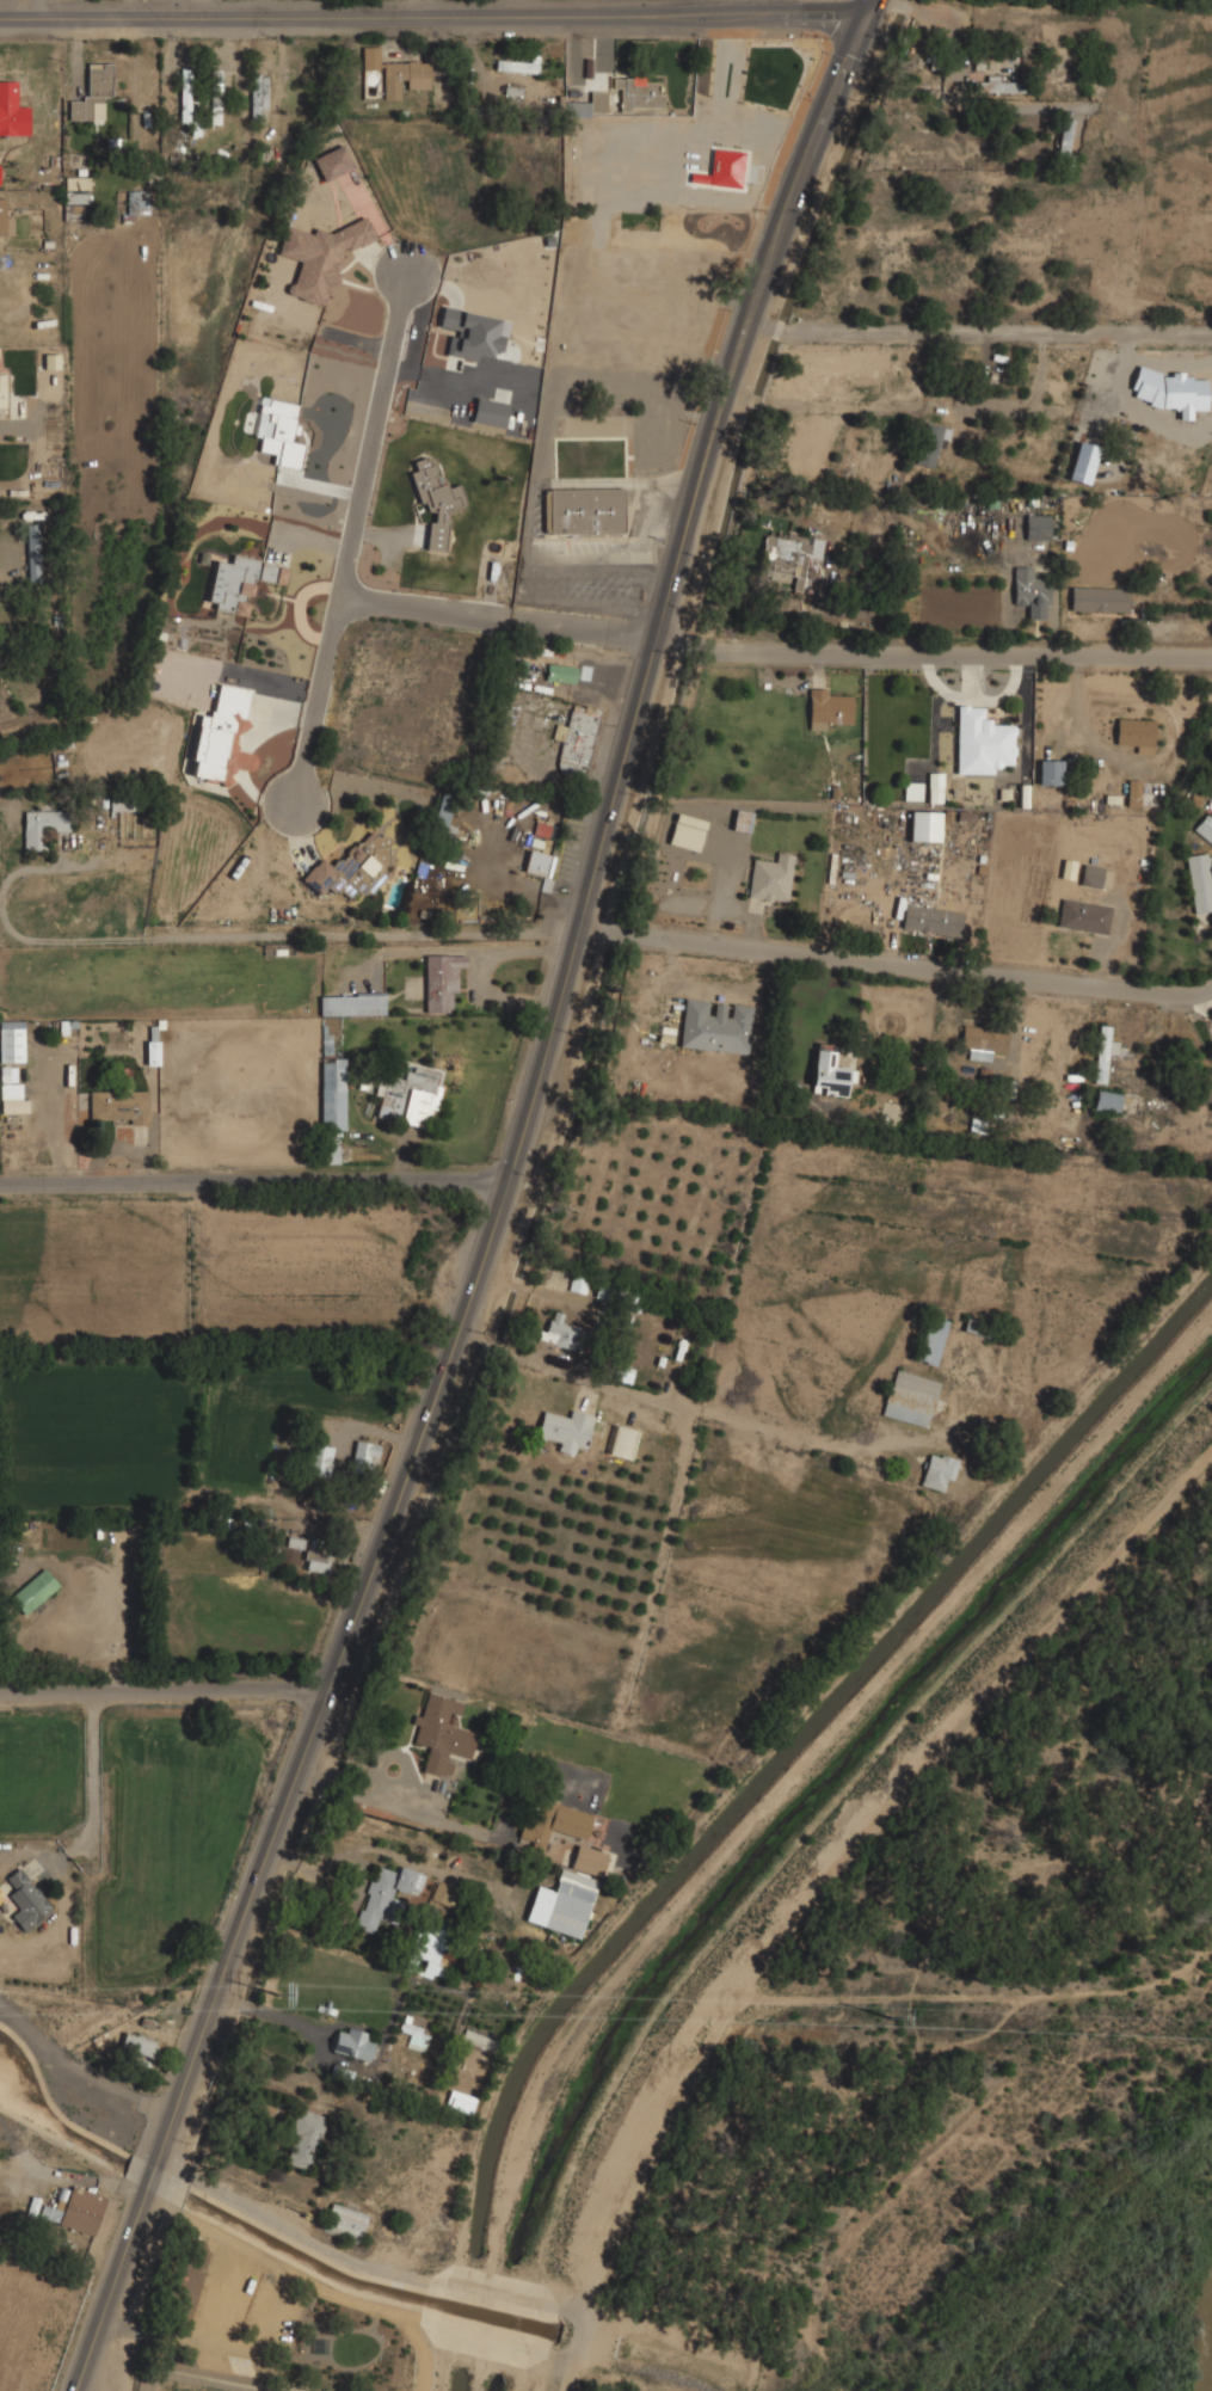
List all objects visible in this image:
road: (431, 7)
road: (37, 8)
road: (912, 8)
road: (433, 14)
traffic signals: (839, 14)
building: (516, 66)
building: (395, 72)
building: (997, 86)
building: (92, 92)
building: (638, 92)
building: (185, 94)
building: (258, 94)
building: (215, 96)
building: (585, 105)
building: (10, 107)
building: (1065, 136)
building: (333, 162)
building: (725, 167)
building: (76, 190)
building: (137, 201)
building: (5, 221)
building: (319, 257)
building: (472, 334)
road: (979, 334)
road: (985, 351)
road: (1161, 363)
building: (1170, 391)
building: (2, 393)
road: (1127, 397)
road: (910, 406)
building: (490, 412)
road: (958, 425)
building: (930, 443)
building: (435, 500)
building: (583, 510)
building: (1038, 527)
road: (350, 540)
building: (32, 552)
building: (782, 559)
building: (240, 582)
building: (1030, 591)
building: (1099, 598)
road: (497, 623)
road: (934, 658)
building: (560, 672)
building: (828, 708)
building: (1136, 733)
building: (221, 737)
building: (577, 742)
building: (982, 742)
building: (1048, 772)
building: (1132, 792)
building: (935, 794)
building: (442, 812)
building: (742, 820)
building: (42, 826)
building: (925, 826)
building: (1205, 828)
building: (687, 831)
building: (528, 860)
building: (352, 866)
building: (1090, 875)
building: (771, 878)
building: (1200, 880)
building: (1083, 915)
building: (931, 920)
road: (897, 967)
building: (439, 983)
building: (351, 1003)
building: (715, 1026)
building: (12, 1040)
building: (983, 1041)
building: (1103, 1052)
building: (153, 1053)
building: (828, 1075)
road: (537, 1080)
building: (332, 1093)
building: (407, 1094)
building: (1107, 1101)
building: (13, 1105)
building: (118, 1106)
building: (331, 1154)
road: (254, 1184)
building: (561, 1333)
building: (931, 1340)
road: (524, 1356)
building: (910, 1399)
building: (566, 1430)
building: (623, 1442)
building: (364, 1455)
building: (318, 1459)
building: (937, 1471)
building: (316, 1560)
building: (33, 1591)
road: (162, 1691)
building: (442, 1732)
road: (100, 1775)
building: (589, 1860)
building: (386, 1894)
building: (26, 1900)
building: (562, 1904)
building: (429, 1947)
power tower: (277, 1996)
power tower: (891, 2020)
building: (479, 2039)
building: (352, 2043)
building: (137, 2045)
building: (460, 2102)
building: (303, 2139)
road: (153, 2174)
building: (347, 2224)
road: (110, 2294)
park: (277, 2327)

